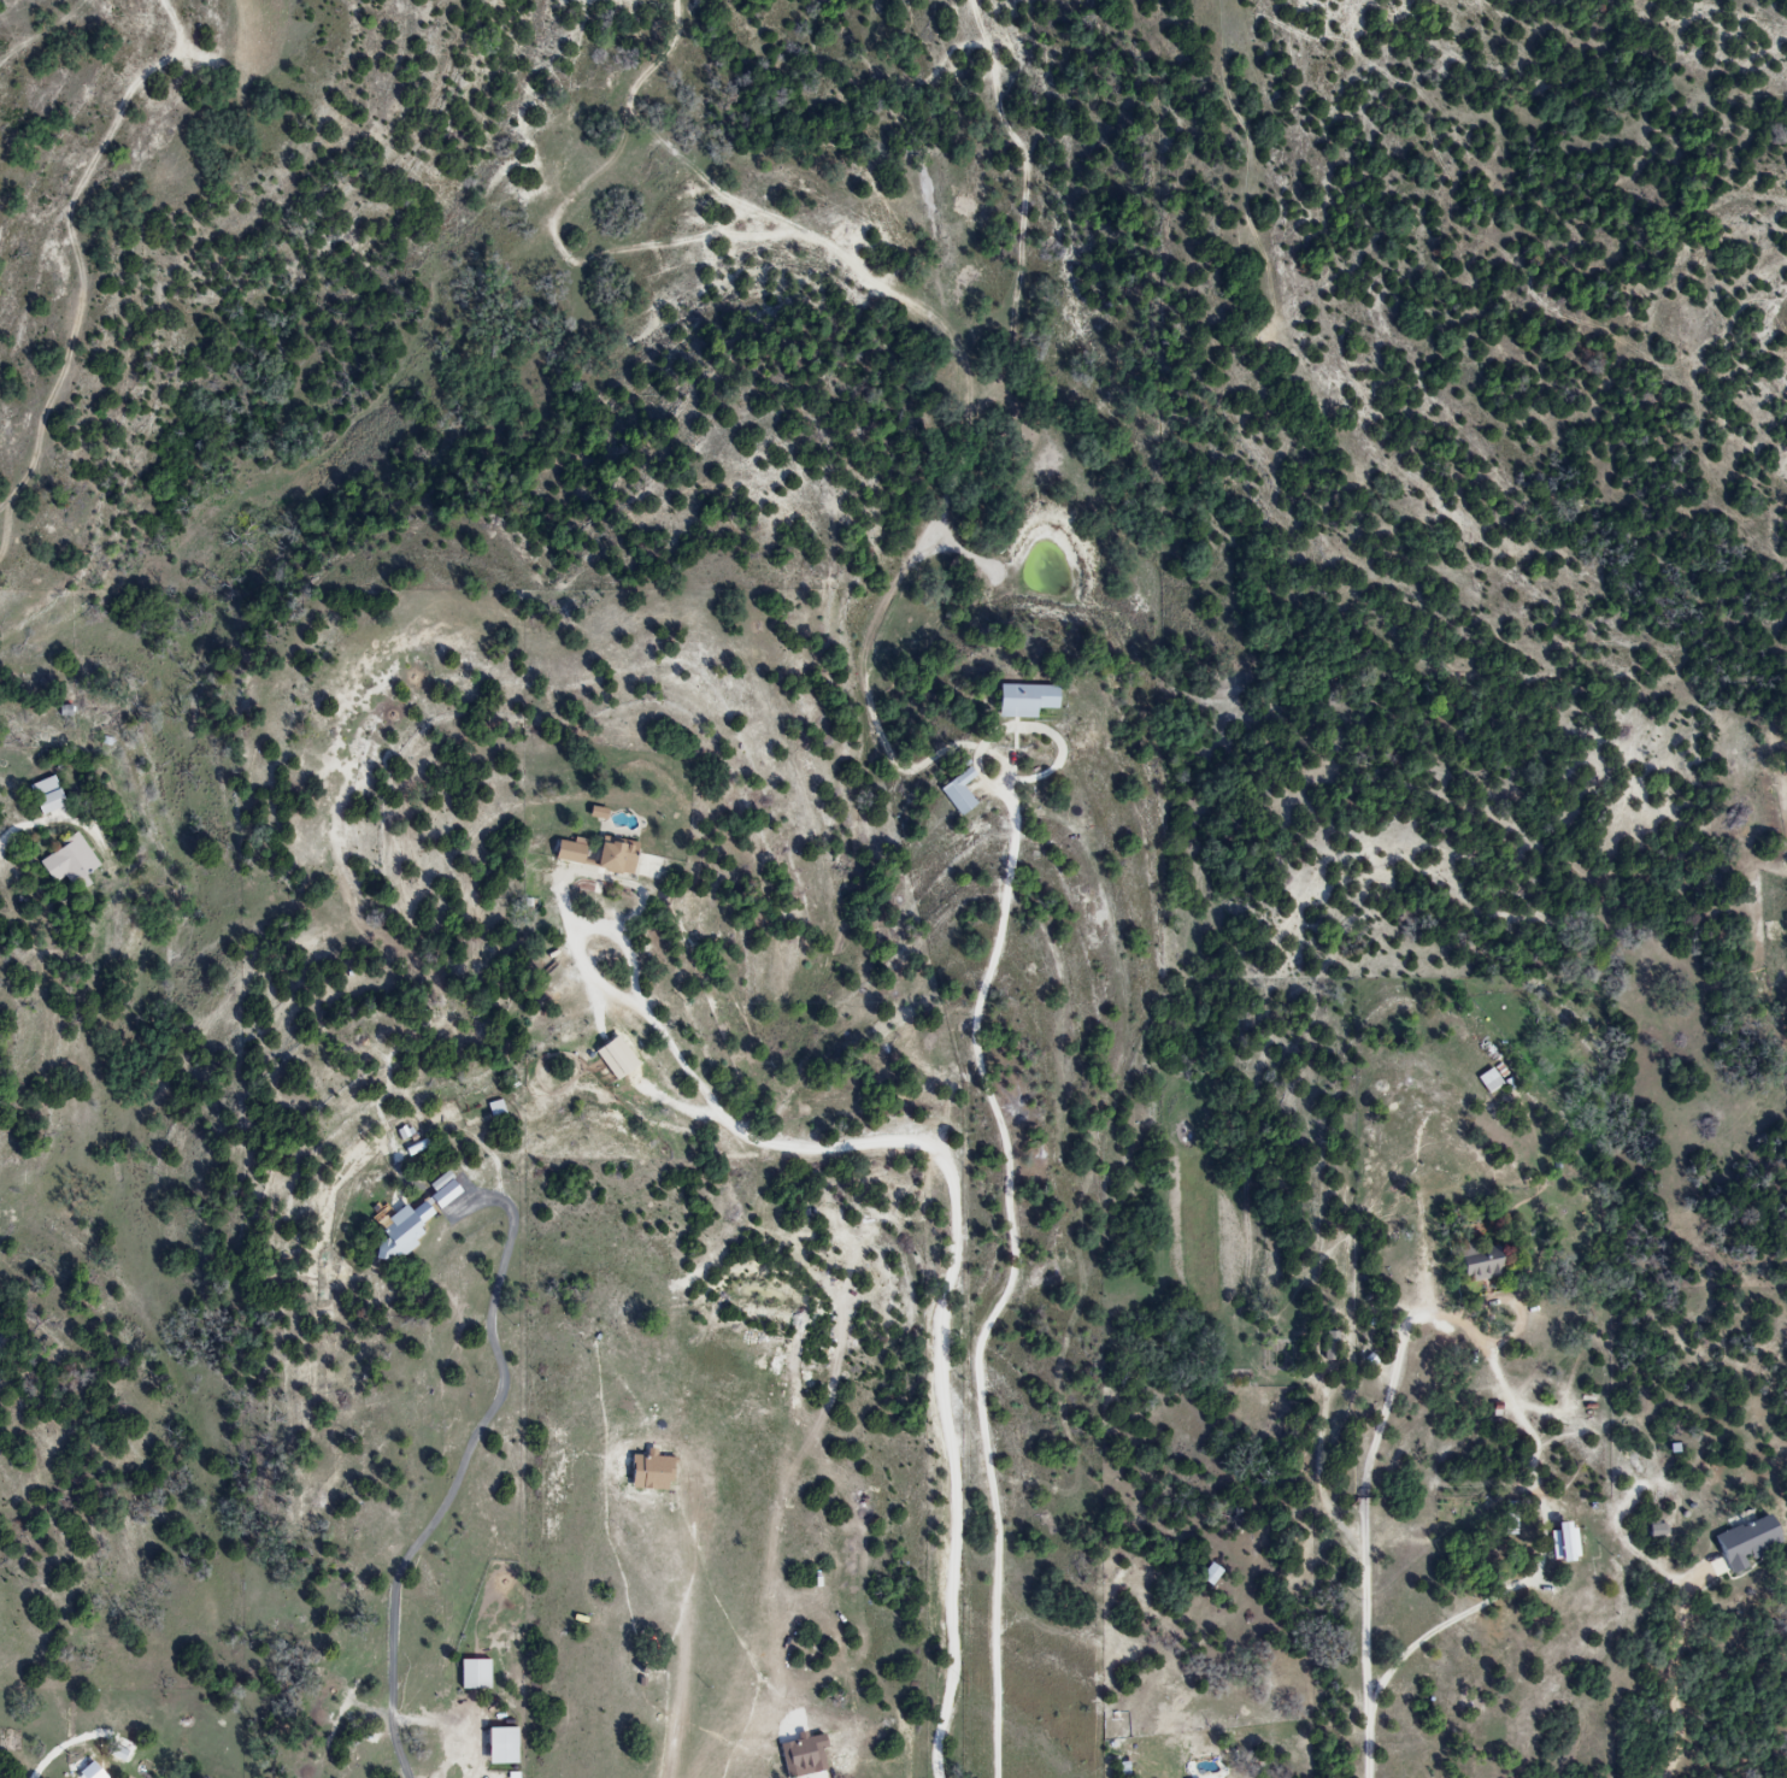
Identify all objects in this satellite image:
road: (45, 34)
building: (1022, 700)
building: (957, 793)
building: (43, 796)
road: (55, 823)
building: (598, 856)
building: (65, 862)
road: (958, 1217)
building: (396, 1235)
building: (1479, 1262)
road: (1012, 1277)
road: (1481, 1340)
road: (460, 1470)
building: (1564, 1543)
building: (1748, 1543)
building: (1207, 1576)
road: (682, 1643)
road: (1671, 1670)
road: (1372, 1743)

